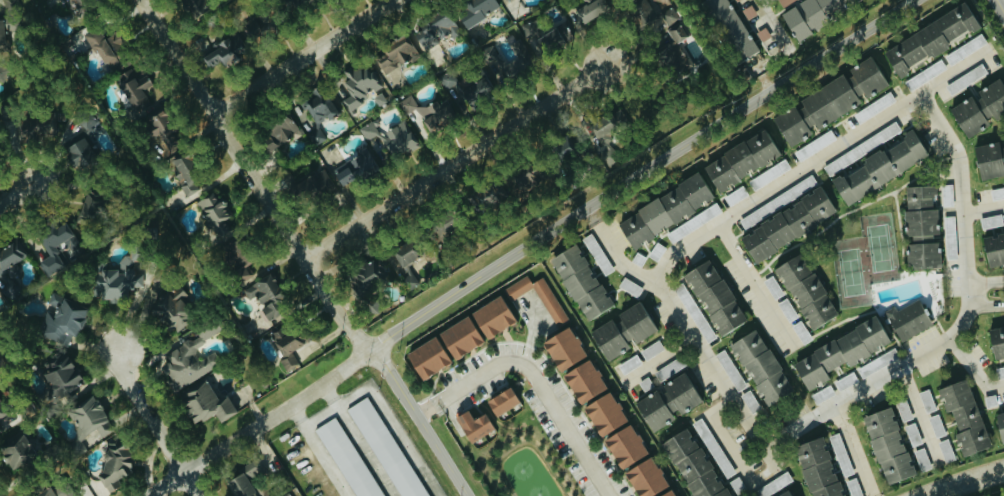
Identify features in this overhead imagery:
road: (759, 1)
building: (786, 2)
building: (194, 7)
road: (999, 7)
building: (476, 9)
building: (590, 11)
building: (750, 11)
building: (812, 11)
building: (643, 12)
building: (255, 25)
road: (772, 27)
building: (732, 28)
building: (436, 30)
building: (549, 33)
building: (764, 33)
building: (1, 34)
building: (930, 38)
building: (673, 41)
building: (99, 47)
building: (967, 48)
building: (225, 50)
building: (395, 52)
building: (515, 56)
road: (306, 58)
building: (926, 74)
building: (742, 75)
building: (967, 77)
building: (359, 83)
building: (134, 87)
building: (468, 89)
building: (831, 100)
building: (320, 106)
building: (875, 106)
building: (979, 107)
building: (430, 111)
building: (612, 117)
building: (87, 120)
building: (0, 124)
building: (32, 127)
building: (892, 128)
building: (161, 130)
building: (277, 132)
building: (392, 137)
building: (816, 144)
building: (562, 147)
building: (79, 152)
road: (817, 159)
building: (990, 159)
building: (740, 160)
road: (454, 163)
building: (357, 165)
building: (879, 168)
building: (770, 173)
building: (998, 193)
road: (13, 195)
building: (737, 195)
building: (948, 197)
building: (91, 205)
building: (664, 210)
road: (983, 210)
building: (217, 215)
building: (992, 220)
building: (695, 222)
building: (787, 224)
building: (922, 227)
building: (592, 243)
road: (531, 245)
building: (74, 248)
building: (227, 249)
building: (994, 249)
road: (300, 250)
building: (50, 251)
building: (12, 253)
building: (404, 263)
building: (242, 274)
building: (368, 275)
building: (118, 280)
building: (581, 282)
building: (774, 286)
road: (752, 288)
building: (806, 290)
road: (985, 290)
building: (539, 295)
building: (267, 298)
building: (709, 299)
building: (173, 309)
building: (789, 309)
building: (493, 316)
building: (62, 318)
road: (963, 318)
building: (909, 319)
building: (622, 331)
building: (803, 331)
road: (531, 334)
building: (459, 337)
building: (996, 340)
building: (287, 345)
building: (563, 348)
building: (653, 349)
building: (839, 353)
building: (427, 358)
building: (190, 359)
road: (657, 361)
building: (879, 362)
building: (630, 363)
building: (761, 366)
building: (731, 369)
road: (974, 369)
building: (1000, 371)
building: (59, 374)
road: (533, 378)
building: (847, 379)
building: (584, 381)
building: (646, 383)
building: (823, 393)
road: (727, 396)
building: (928, 399)
building: (751, 400)
building: (501, 401)
building: (668, 401)
building: (206, 404)
road: (150, 408)
building: (904, 409)
road: (387, 413)
building: (604, 413)
road: (918, 414)
building: (964, 416)
building: (4, 417)
building: (89, 417)
road: (322, 422)
building: (938, 424)
building: (474, 425)
building: (1000, 426)
building: (914, 433)
building: (624, 444)
building: (888, 446)
building: (387, 448)
road: (853, 450)
building: (947, 450)
building: (17, 451)
road: (316, 451)
building: (349, 458)
building: (923, 459)
building: (694, 463)
building: (113, 467)
building: (256, 468)
building: (818, 469)
building: (645, 476)
road: (963, 481)
building: (98, 485)
road: (198, 485)
building: (774, 485)
building: (854, 487)
building: (667, 492)
building: (46, 493)
building: (288, 494)
building: (787, 494)

